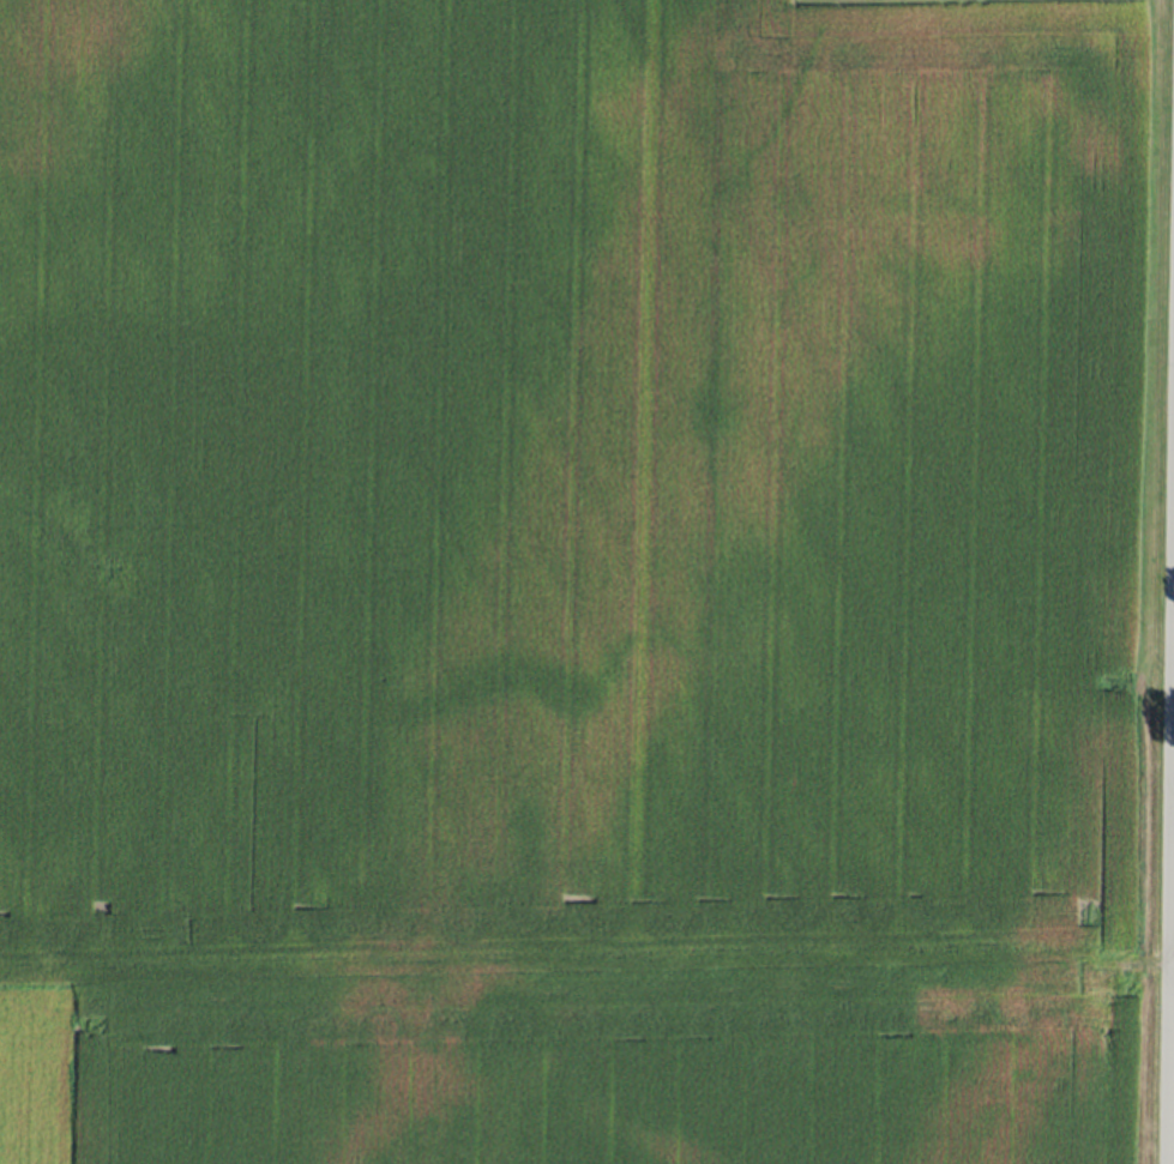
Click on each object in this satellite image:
road: (1172, 893)

